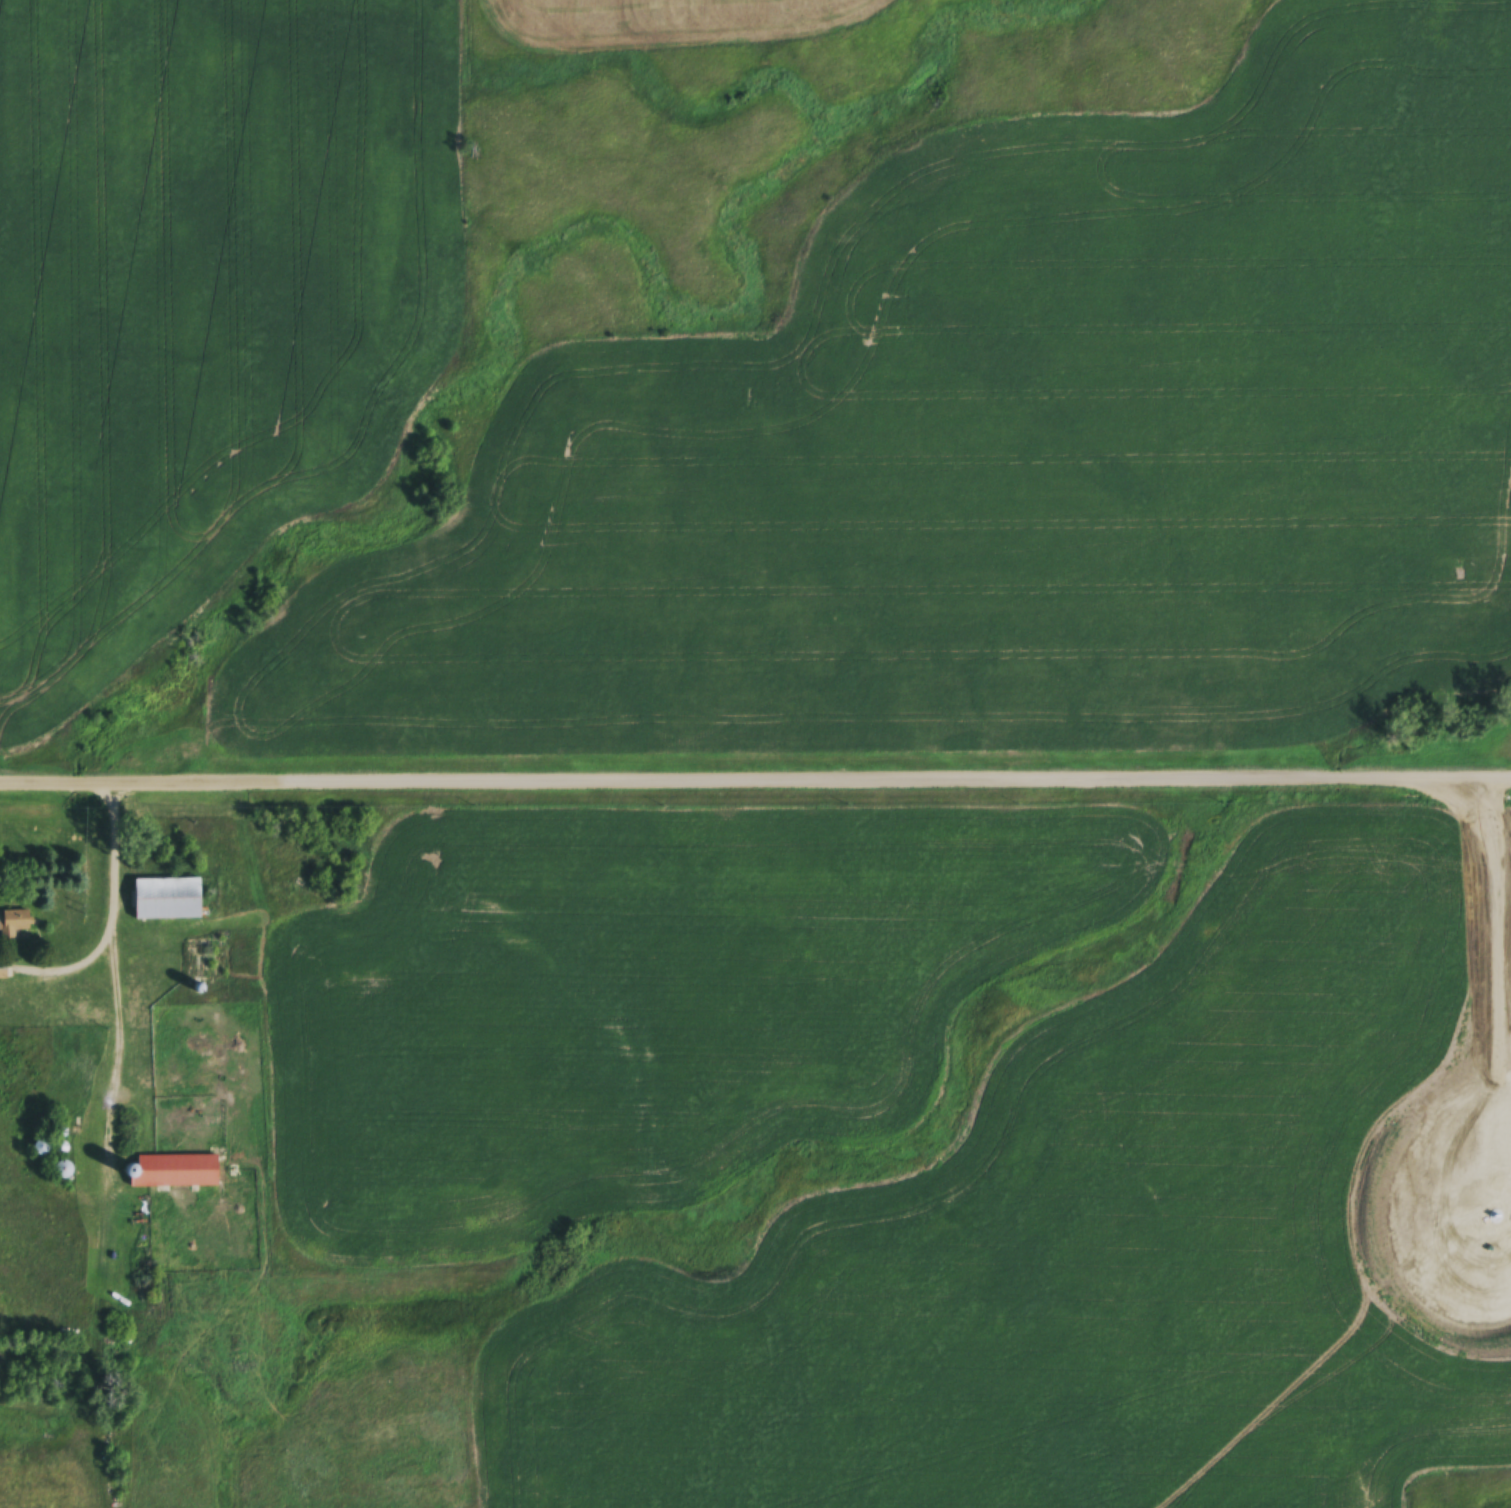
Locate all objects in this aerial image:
road: (755, 776)
building: (168, 900)
road: (109, 913)
building: (14, 925)
building: (173, 1172)
wind turbine: (1490, 1225)

